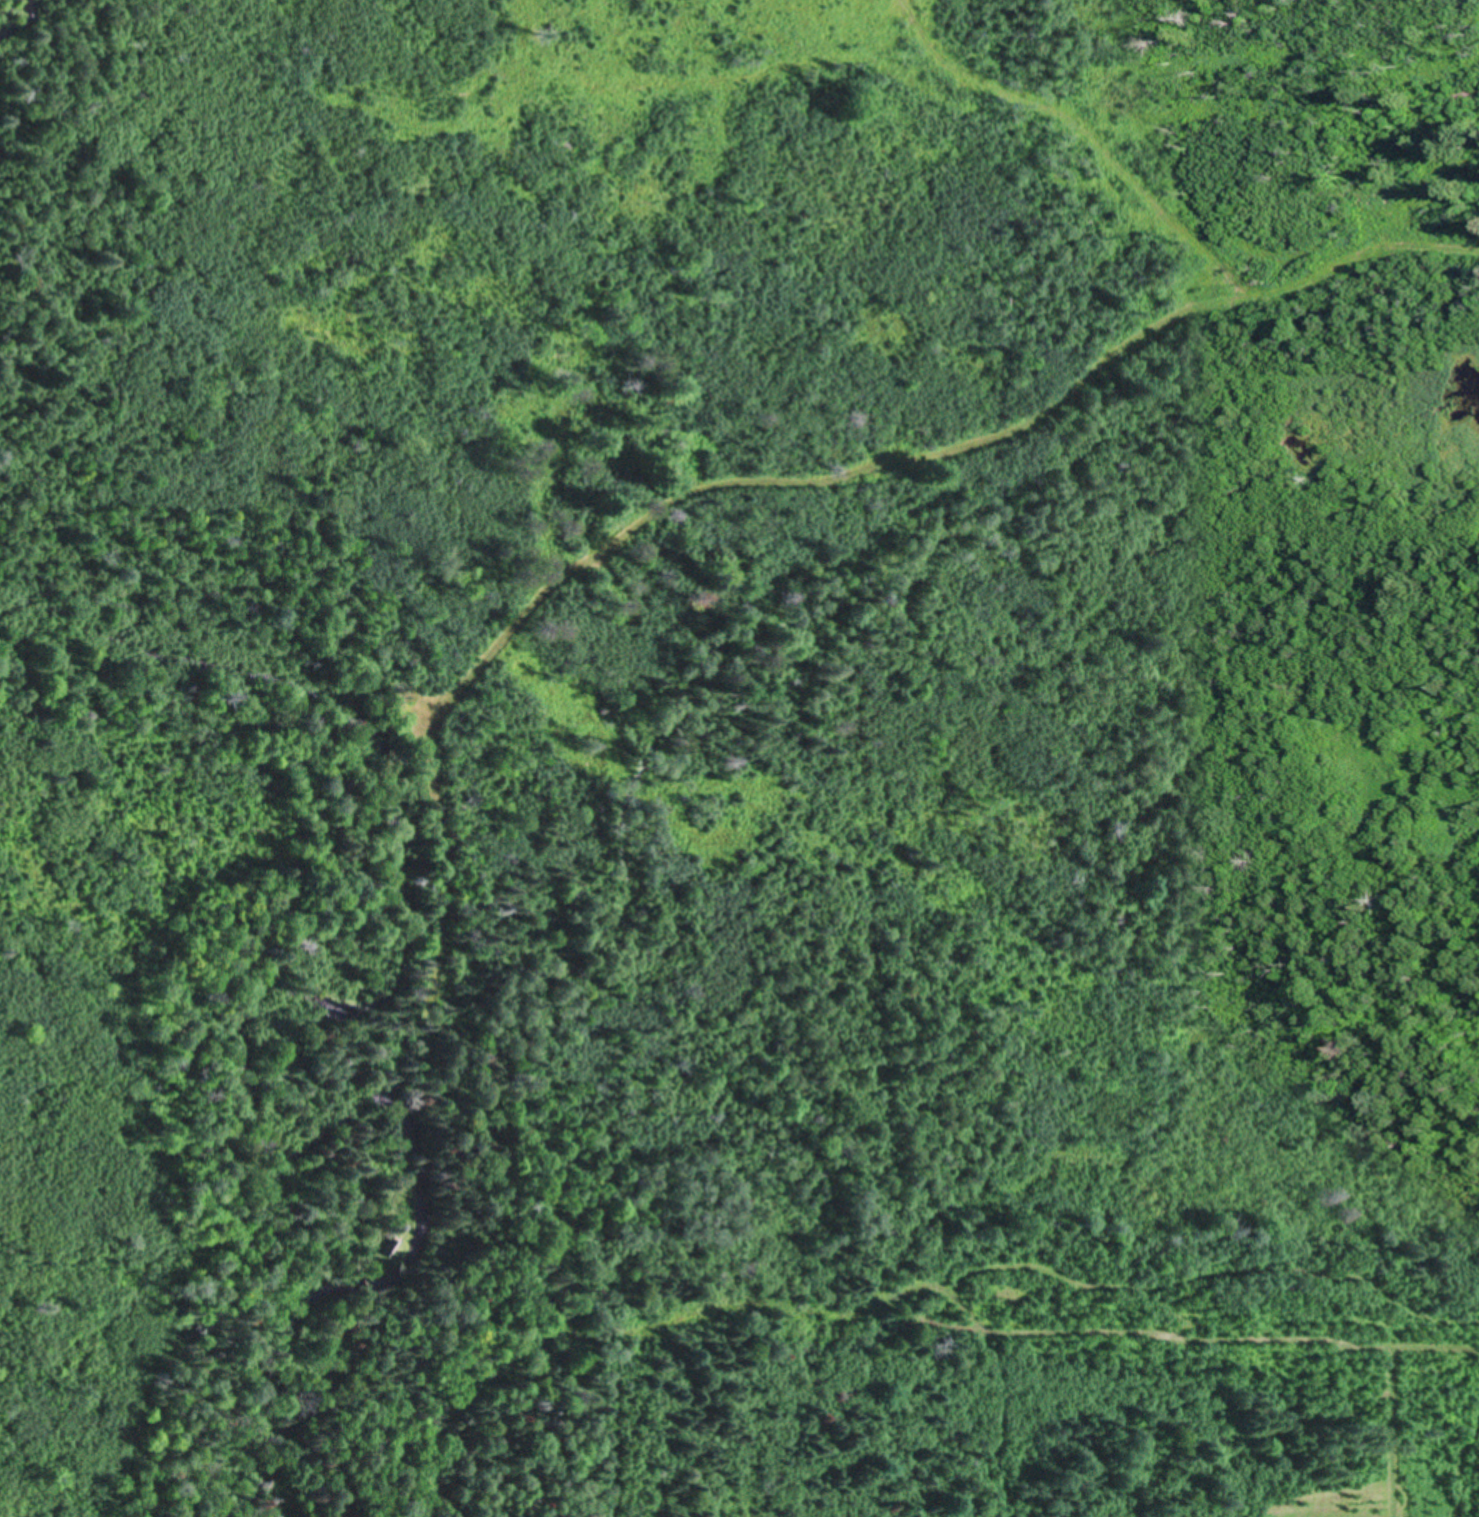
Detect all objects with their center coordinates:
road: (1376, 185)

